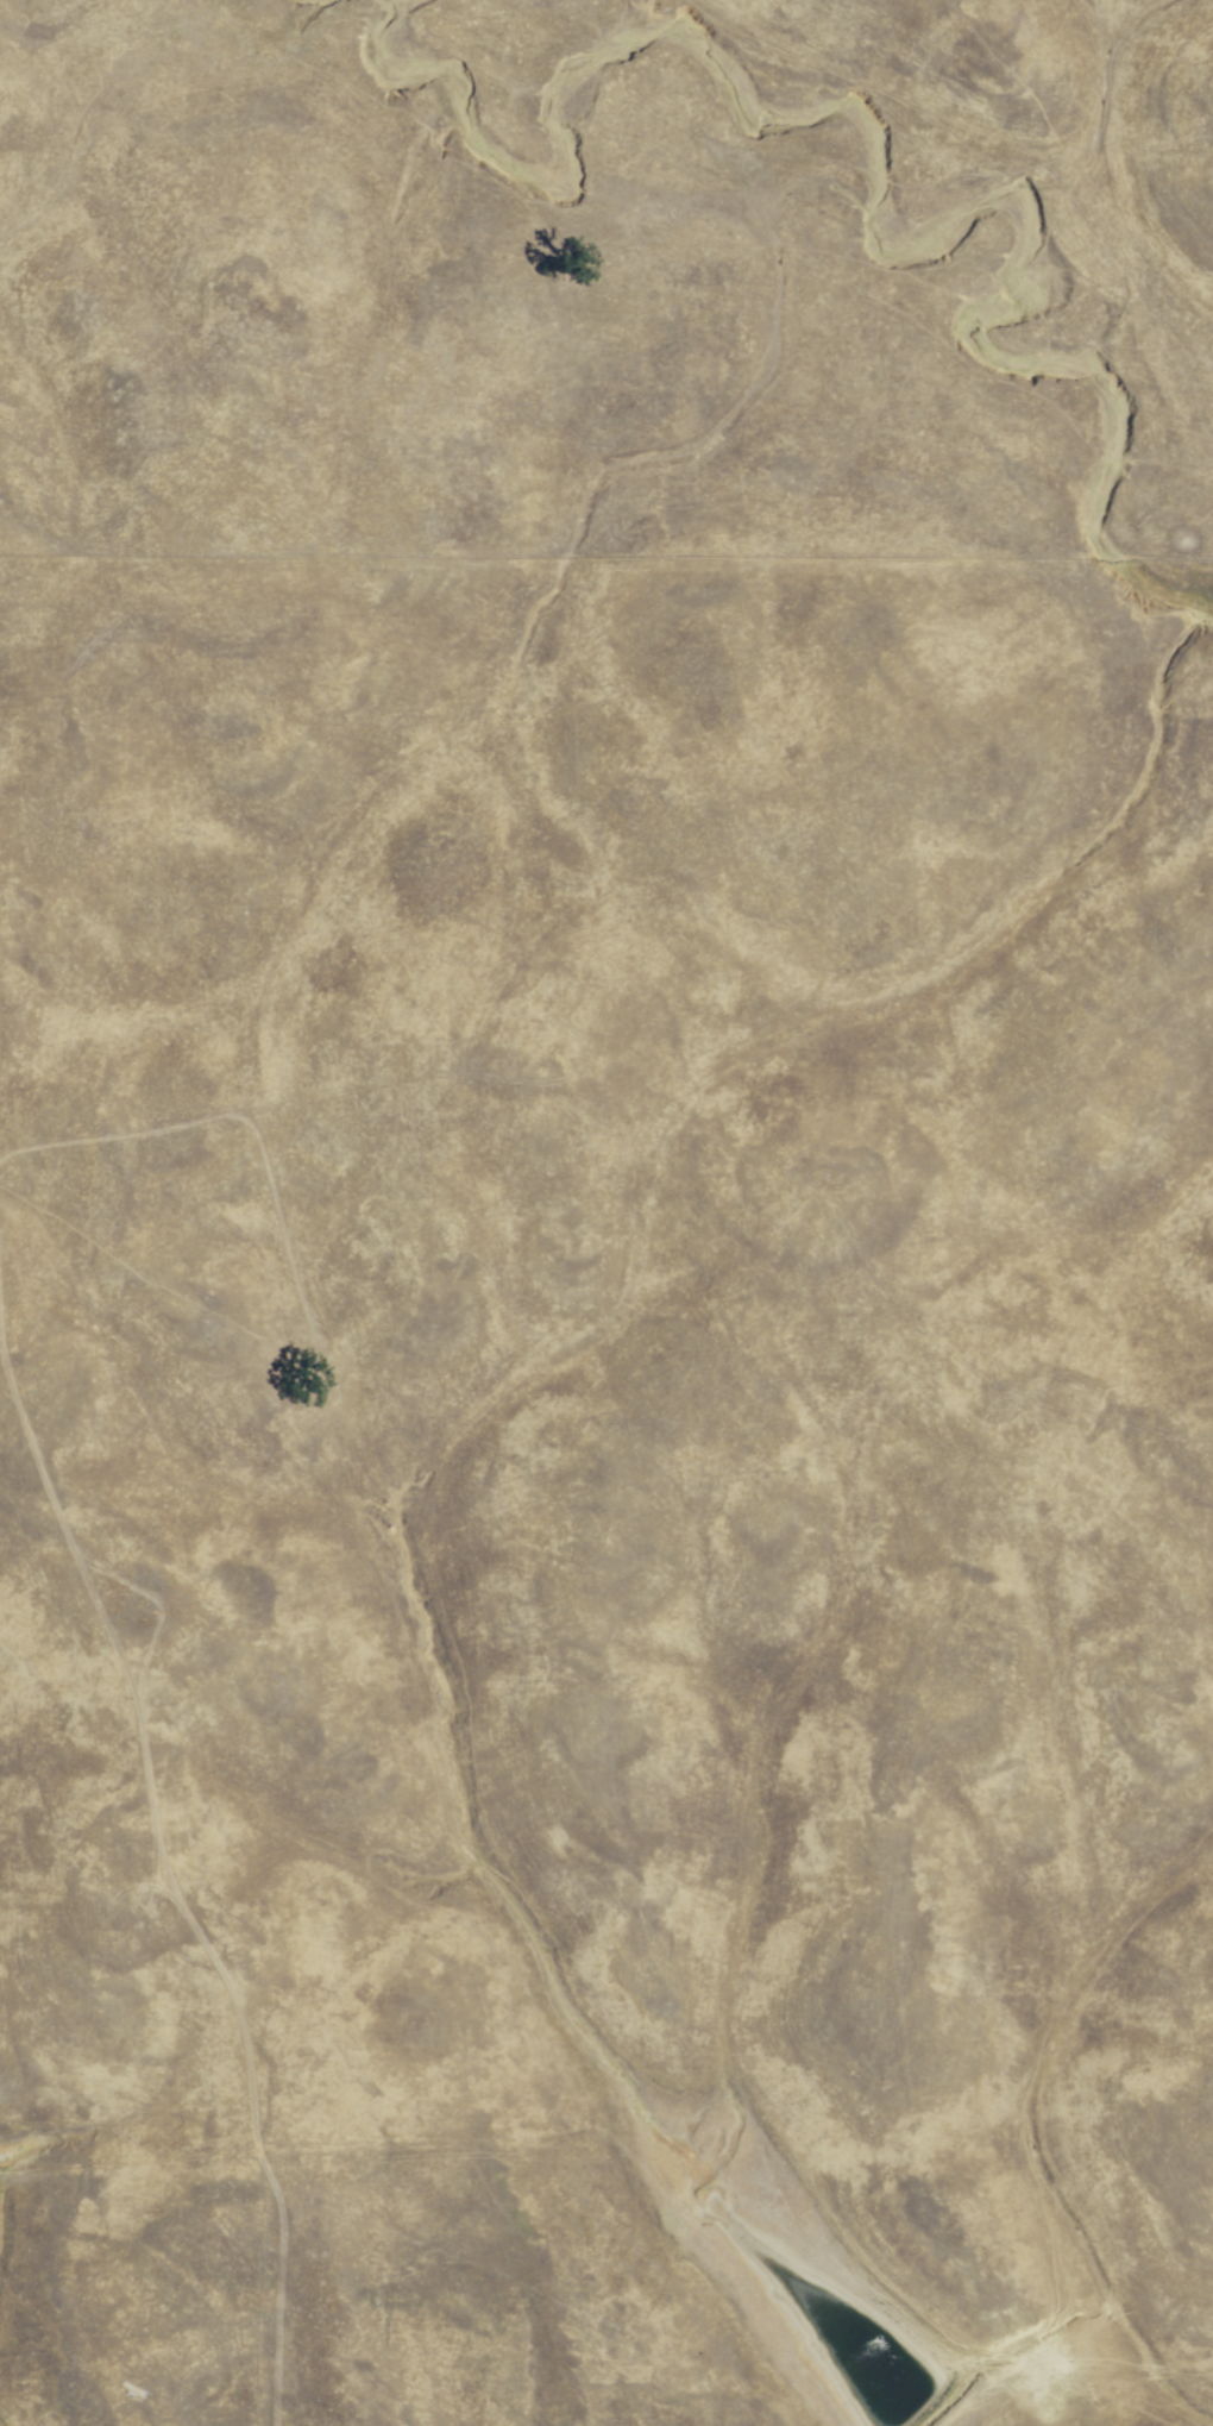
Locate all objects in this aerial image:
dam: (956, 2395)

